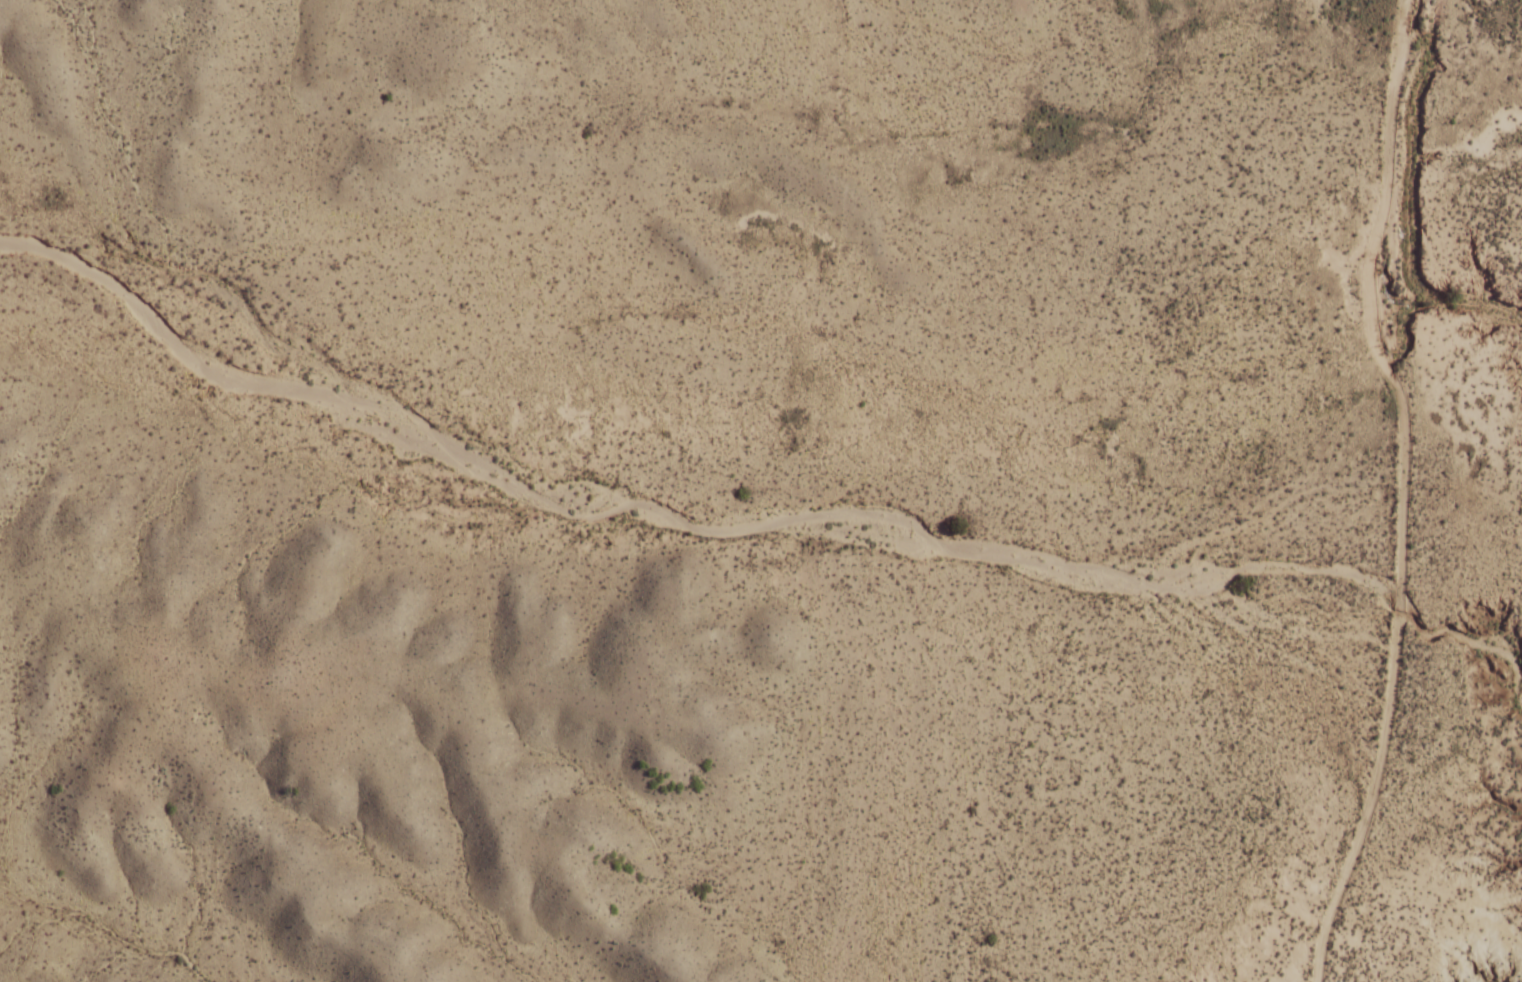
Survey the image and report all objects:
road: (1400, 490)

